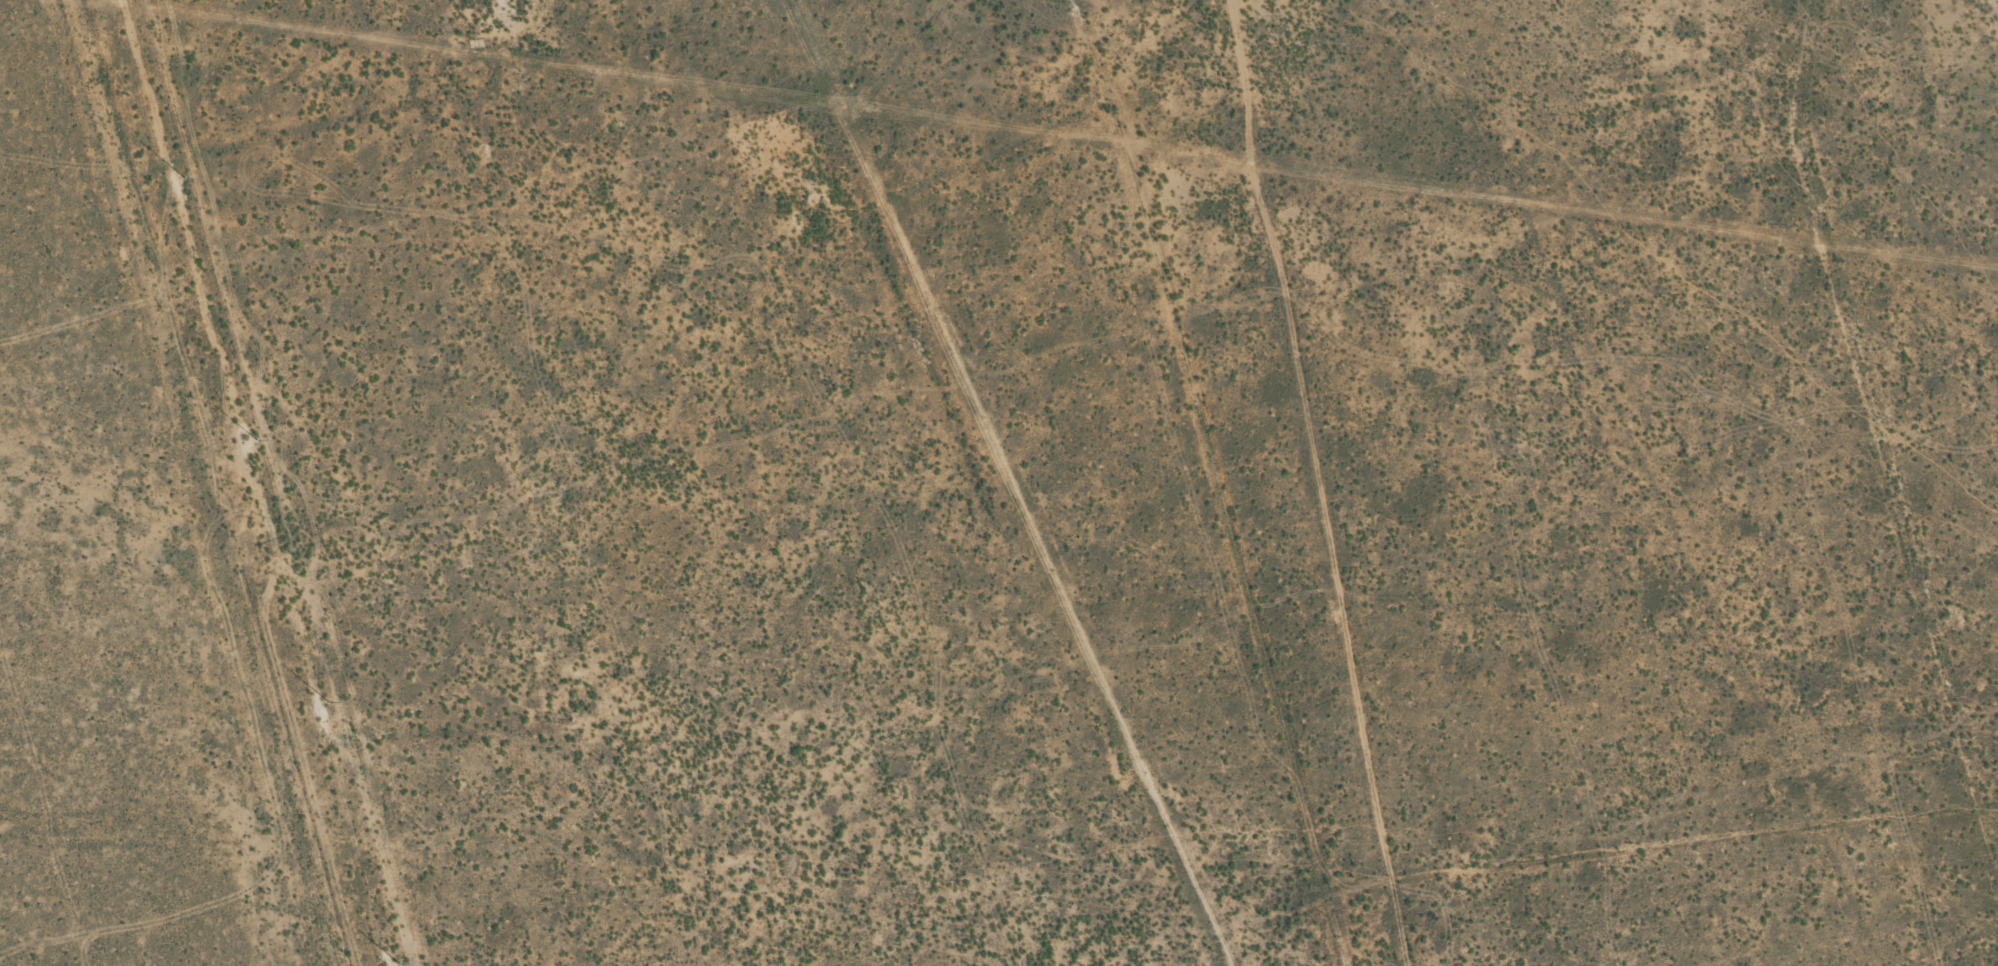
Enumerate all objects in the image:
power tower: (182, 176)
power tower: (253, 439)
power tower: (325, 700)
power tower: (398, 961)

